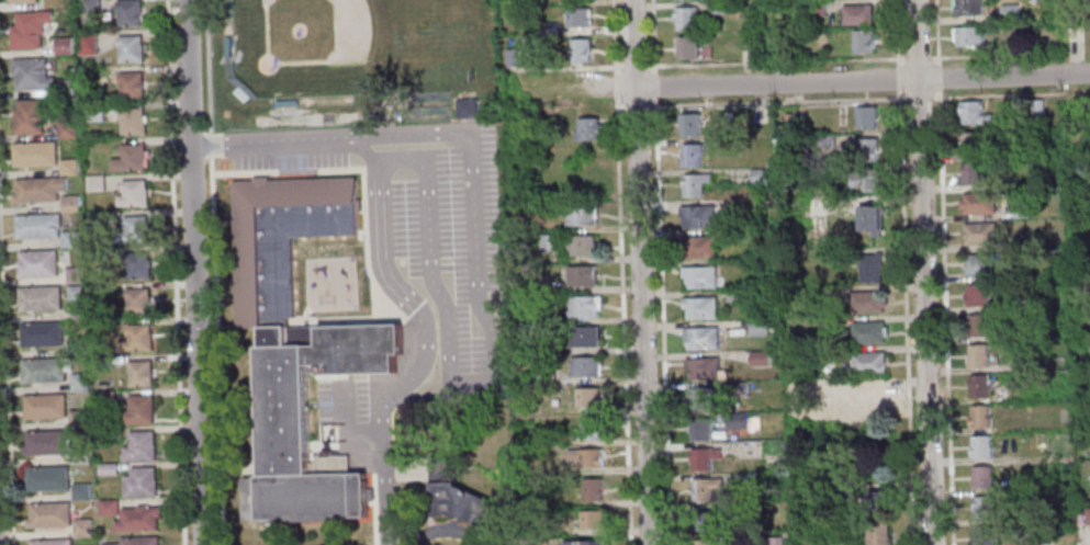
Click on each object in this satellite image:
building: (22, 1)
building: (1032, 1)
building: (533, 2)
building: (1087, 4)
building: (88, 7)
building: (719, 7)
building: (968, 7)
building: (816, 8)
building: (127, 12)
building: (1009, 12)
building: (856, 14)
building: (576, 16)
building: (685, 18)
building: (29, 29)
building: (547, 29)
park: (316, 30)
road: (935, 32)
road: (897, 33)
road: (653, 36)
building: (969, 36)
road: (613, 37)
building: (863, 41)
building: (87, 43)
building: (63, 45)
building: (227, 47)
building: (687, 47)
building: (755, 47)
building: (130, 48)
building: (580, 49)
road: (956, 56)
building: (510, 57)
road: (919, 57)
building: (74, 59)
road: (776, 60)
road: (617, 66)
road: (634, 66)
road: (207, 68)
road: (566, 68)
building: (31, 73)
road: (939, 76)
road: (898, 78)
road: (862, 81)
building: (131, 84)
road: (654, 86)
building: (66, 87)
road: (599, 89)
road: (615, 90)
road: (1011, 94)
road: (919, 99)
road: (760, 102)
building: (285, 103)
building: (464, 107)
building: (1037, 107)
building: (93, 113)
building: (974, 113)
building: (30, 115)
building: (757, 115)
building: (787, 115)
building: (866, 117)
building: (133, 121)
building: (689, 125)
building: (66, 129)
building: (587, 129)
building: (544, 130)
road: (468, 134)
building: (825, 140)
building: (970, 143)
road: (210, 145)
building: (866, 149)
building: (34, 154)
building: (692, 155)
building: (130, 158)
building: (68, 167)
road: (363, 172)
building: (973, 173)
building: (758, 177)
building: (863, 181)
building: (95, 183)
building: (695, 184)
building: (37, 189)
building: (133, 193)
building: (978, 202)
building: (69, 203)
building: (1020, 212)
building: (580, 214)
building: (697, 216)
building: (869, 218)
building: (95, 220)
building: (38, 226)
building: (133, 229)
building: (980, 234)
building: (740, 235)
building: (70, 239)
building: (1020, 241)
building: (548, 242)
building: (580, 245)
building: (699, 246)
building: (98, 253)
building: (37, 263)
building: (991, 263)
building: (136, 265)
building: (869, 268)
road: (175, 272)
road: (192, 272)
road: (640, 272)
road: (922, 272)
building: (75, 275)
building: (581, 275)
building: (698, 276)
building: (539, 283)
building: (100, 289)
building: (976, 294)
building: (76, 295)
building: (786, 295)
building: (734, 296)
building: (40, 298)
building: (138, 300)
building: (868, 302)
building: (583, 306)
building: (700, 307)
road: (434, 311)
road: (945, 316)
road: (906, 317)
road: (662, 321)
building: (827, 323)
road: (621, 326)
building: (977, 326)
building: (757, 327)
building: (868, 332)
building: (41, 333)
building: (584, 336)
building: (701, 338)
building: (136, 339)
building: (76, 345)
building: (300, 347)
building: (542, 348)
road: (216, 349)
building: (1087, 349)
building: (978, 354)
building: (758, 357)
building: (103, 362)
building: (868, 363)
building: (585, 366)
building: (705, 368)
building: (45, 370)
building: (139, 373)
building: (544, 375)
road: (5, 382)
building: (79, 383)
building: (978, 386)
building: (739, 388)
building: (104, 397)
building: (587, 397)
building: (699, 398)
building: (872, 399)
building: (45, 406)
building: (141, 409)
building: (980, 416)
building: (78, 419)
building: (737, 420)
building: (589, 428)
building: (701, 429)
road: (345, 435)
building: (55, 445)
building: (141, 446)
building: (981, 446)
building: (586, 456)
building: (704, 458)
building: (108, 469)
building: (981, 477)
building: (47, 478)
building: (749, 480)
building: (141, 482)
building: (593, 489)
building: (844, 489)
building: (707, 490)
building: (80, 491)
building: (456, 495)
road: (385, 499)
building: (878, 502)
road: (396, 504)
building: (109, 508)
building: (986, 509)
building: (743, 513)
building: (49, 514)
building: (1087, 515)
building: (138, 519)
building: (592, 519)
building: (704, 521)
building: (82, 527)
road: (447, 530)
building: (876, 533)
building: (985, 535)
building: (138, 541)
building: (774, 541)
building: (52, 542)
building: (584, 543)
building: (703, 543)
building: (835, 543)
building: (533, 544)

